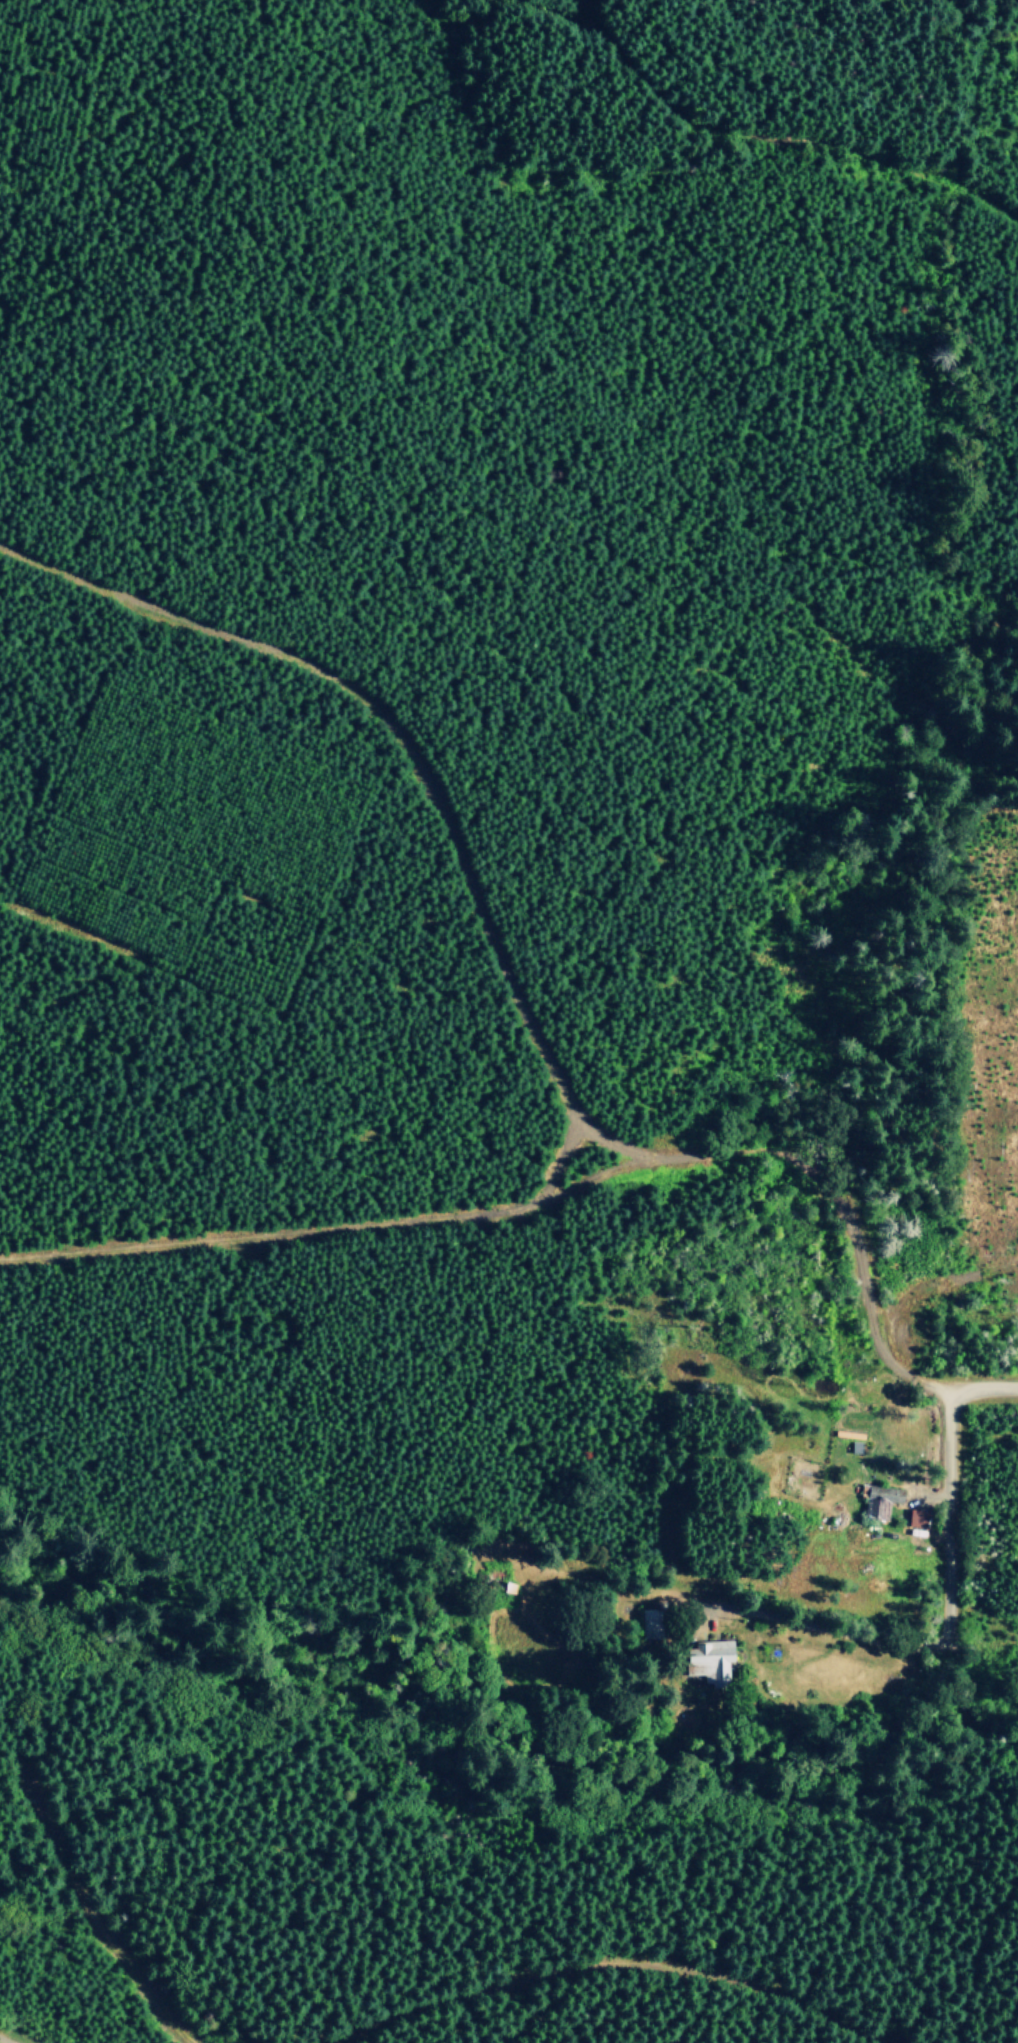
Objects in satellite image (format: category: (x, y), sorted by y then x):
road: (869, 1323)
road: (986, 1386)
building: (881, 1500)
building: (917, 1518)
building: (650, 1623)
building: (709, 1661)
road: (13, 2038)

